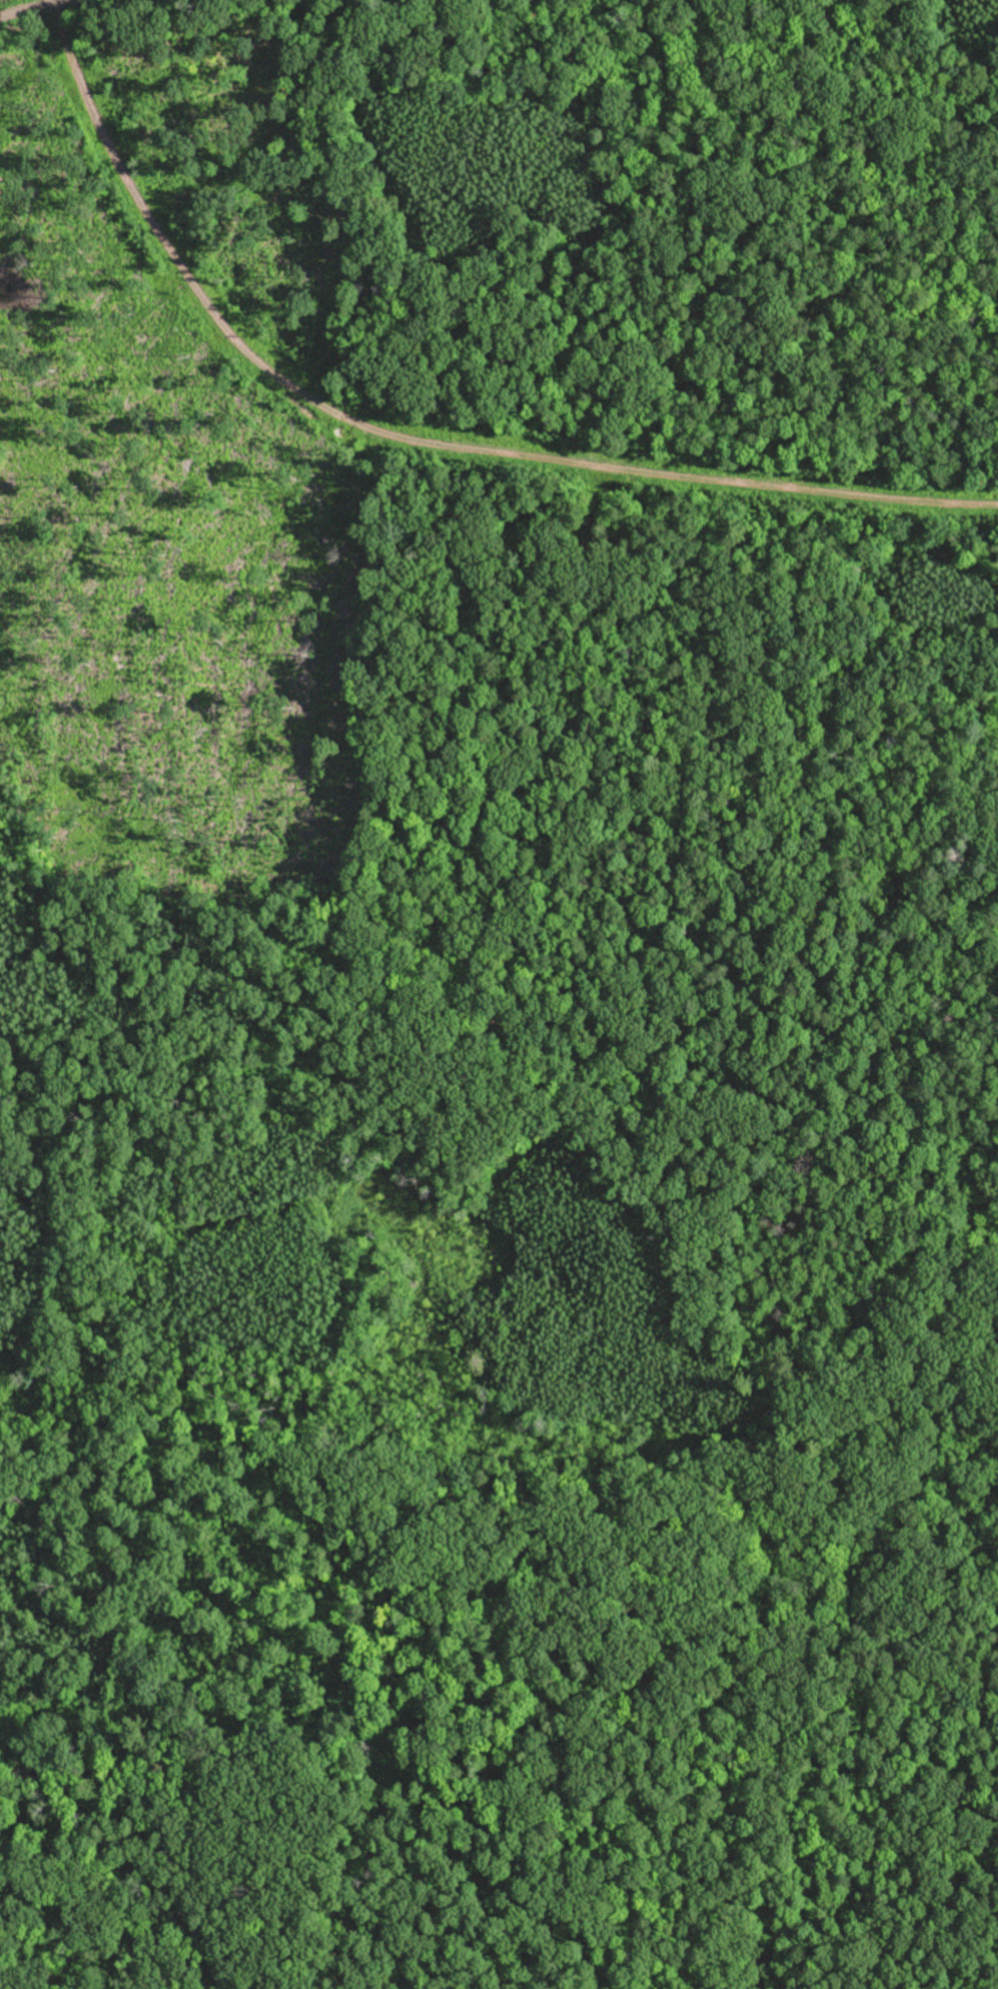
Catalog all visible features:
road: (52, 1)
road: (24, 9)
road: (410, 437)

